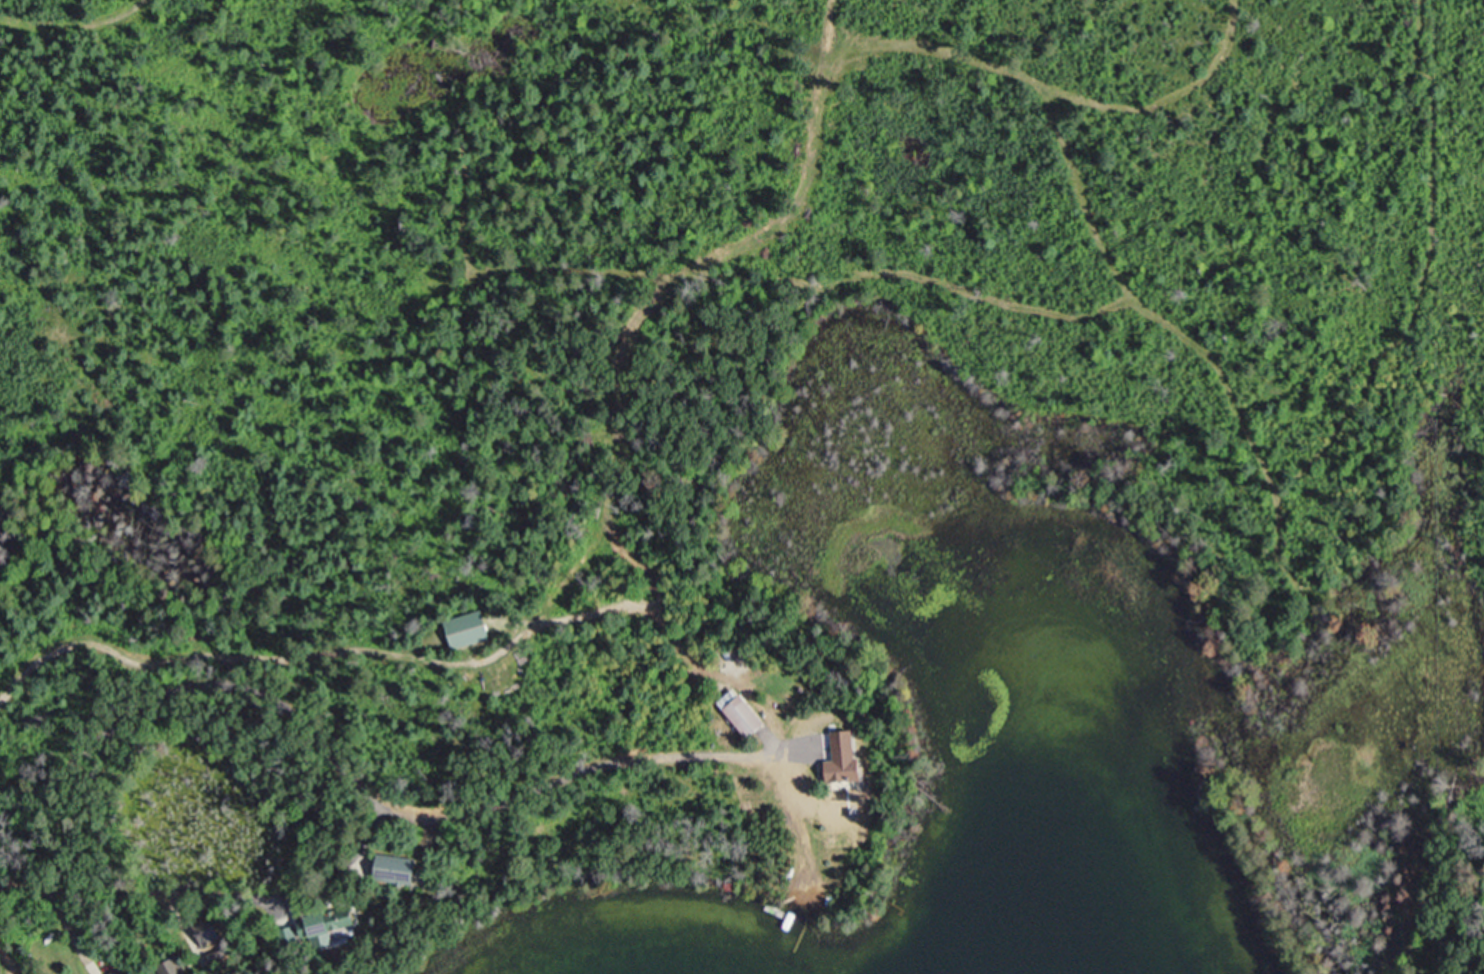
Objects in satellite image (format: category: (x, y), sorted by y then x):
building: (471, 629)
building: (743, 715)
road: (356, 786)
building: (399, 870)
building: (331, 924)
building: (164, 969)

